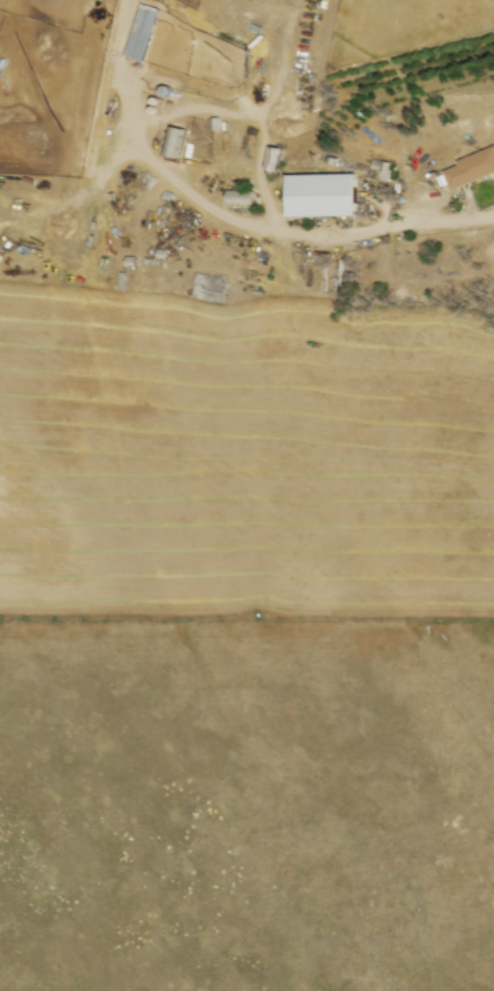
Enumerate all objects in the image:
building: (144, 29)
building: (174, 139)
building: (275, 155)
building: (473, 166)
building: (325, 193)
building: (242, 195)
building: (210, 285)

